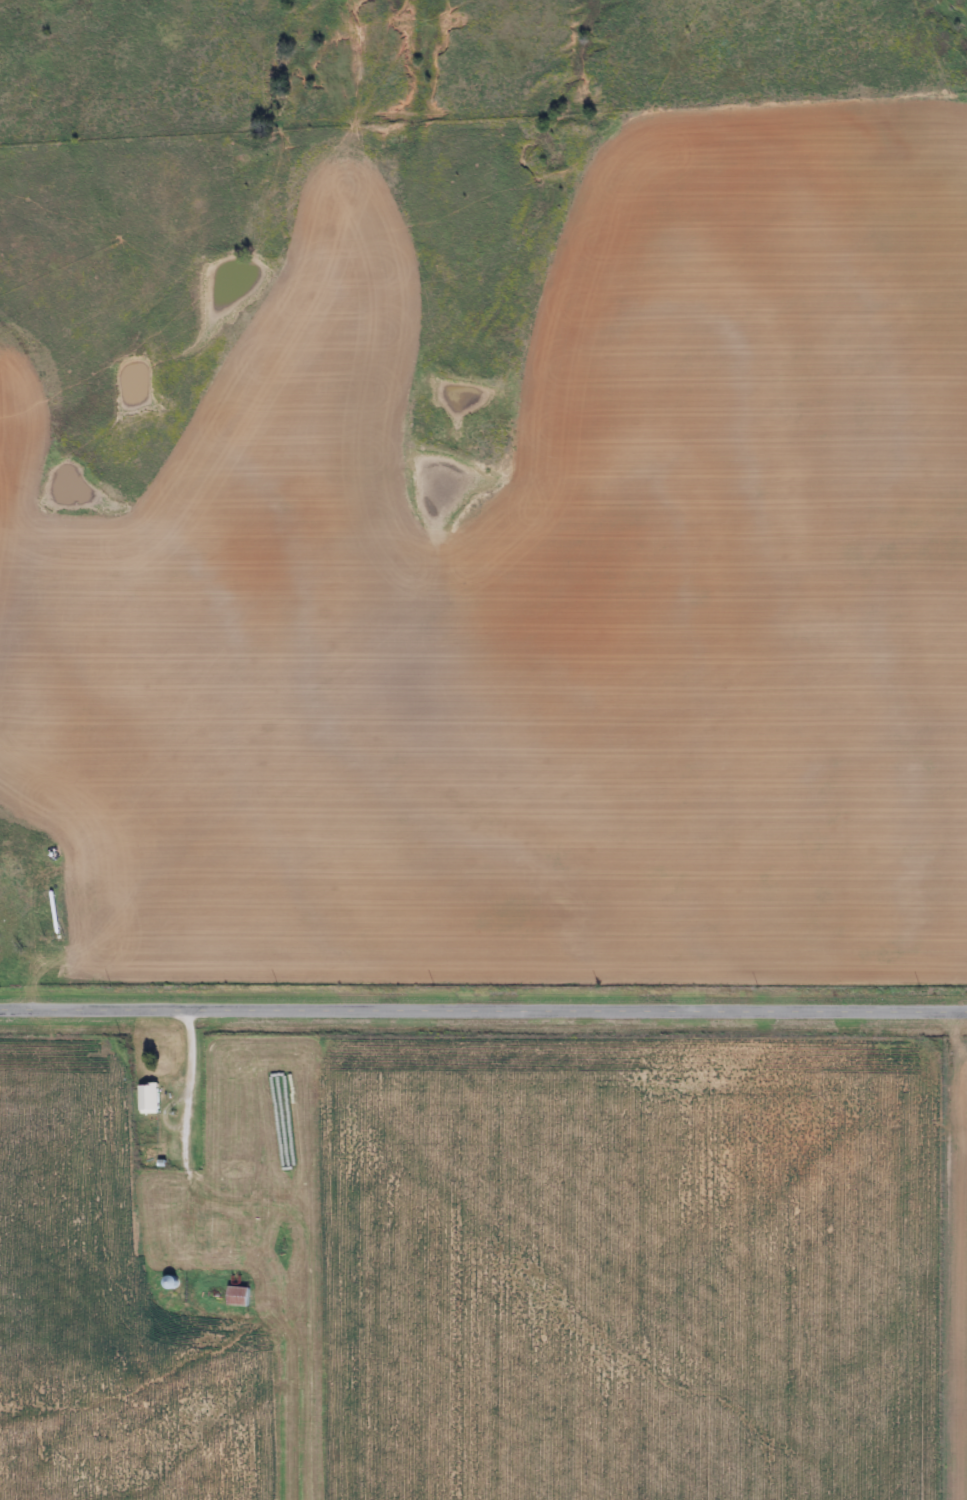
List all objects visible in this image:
road: (483, 1012)
building: (147, 1099)
building: (154, 1148)
building: (236, 1297)

